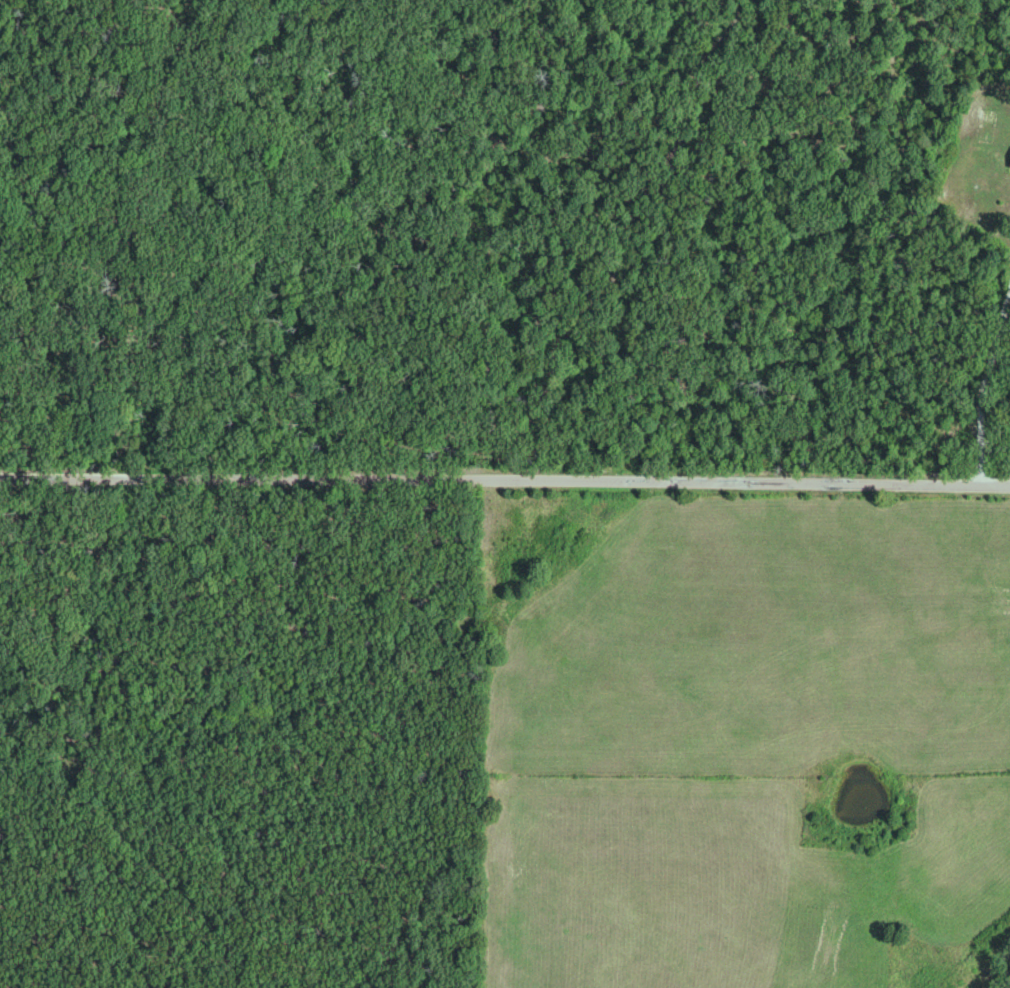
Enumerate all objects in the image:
road: (504, 478)

